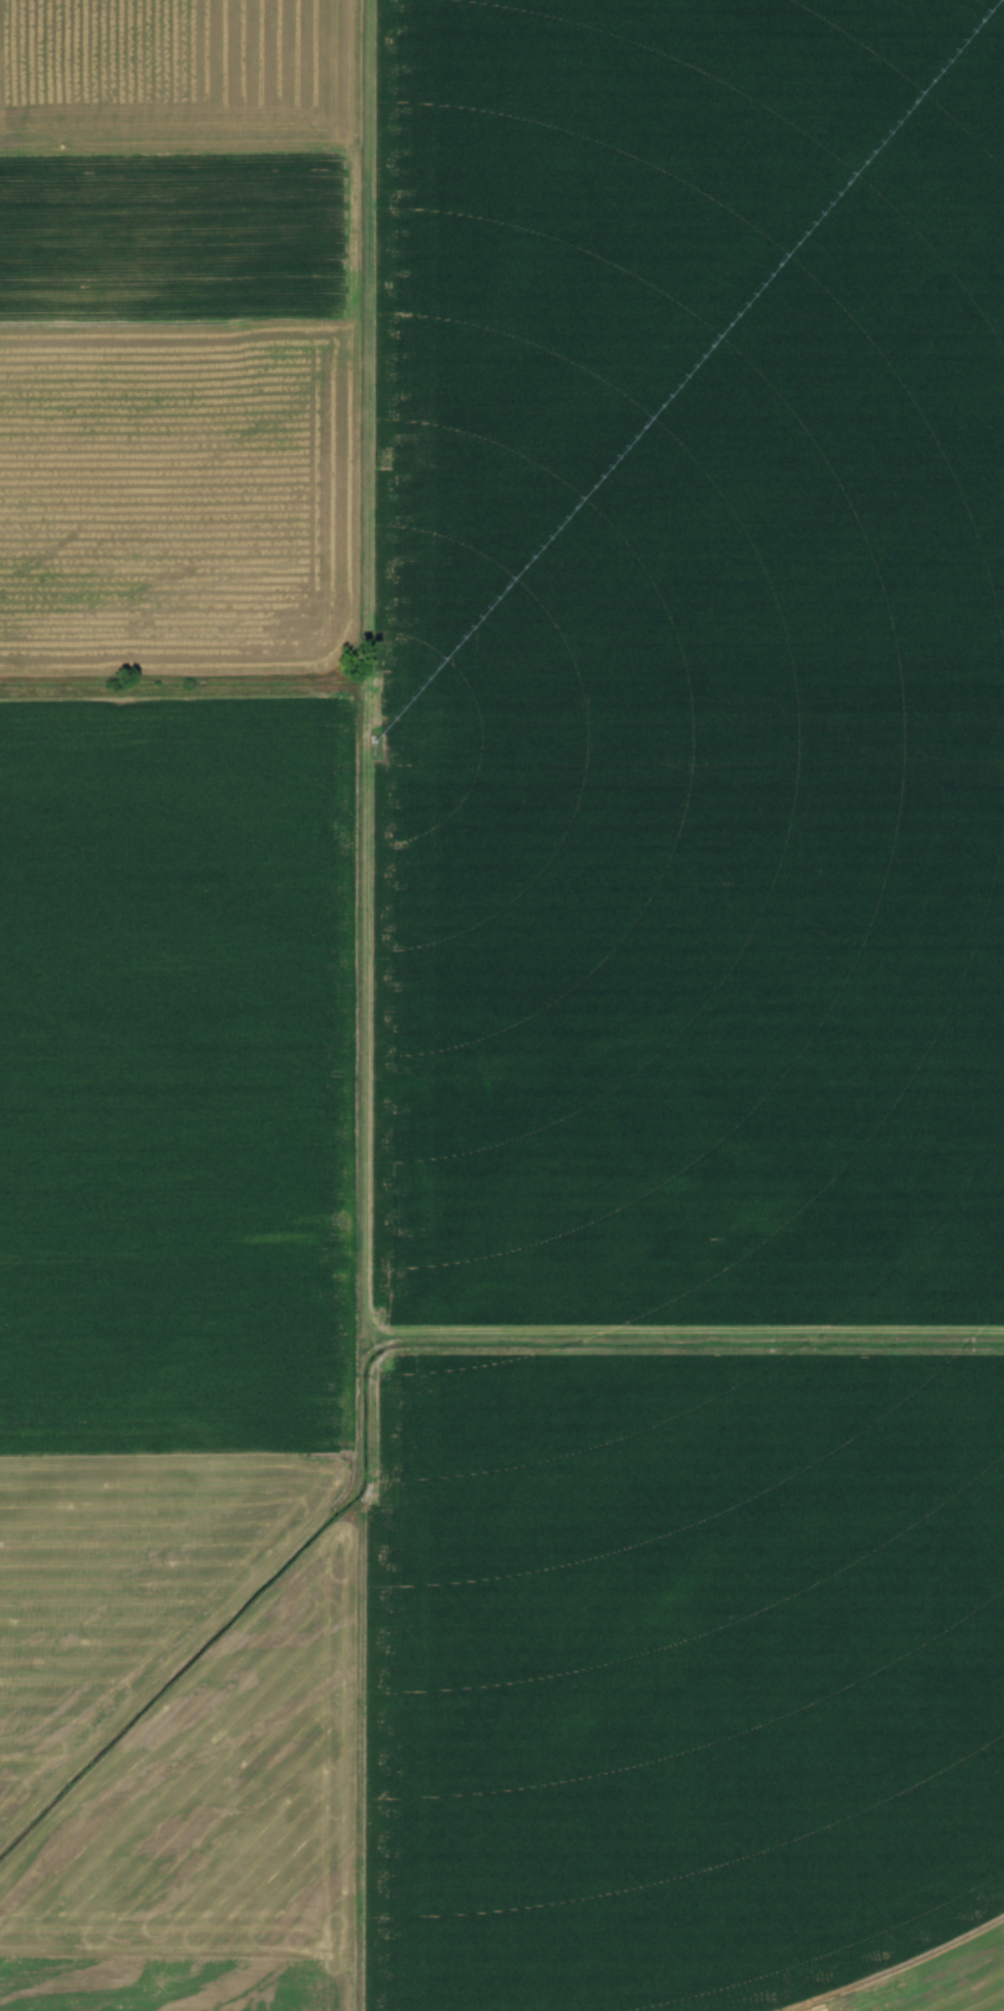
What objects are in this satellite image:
airport runway: (694, 1335)

